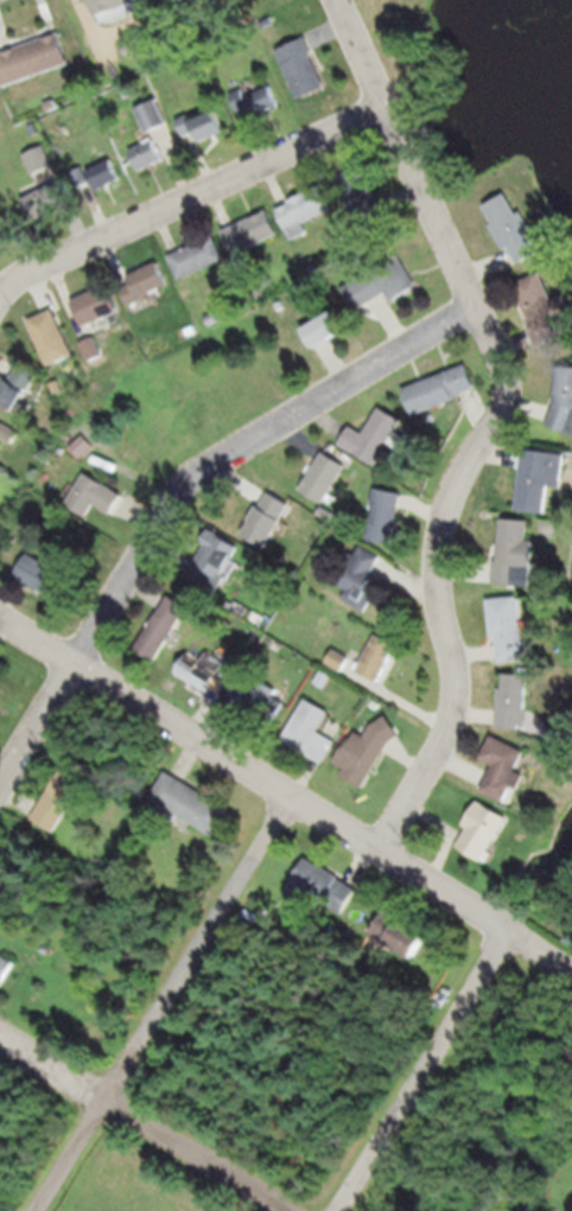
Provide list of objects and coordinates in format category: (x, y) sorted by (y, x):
building: (116, 6)
building: (32, 58)
building: (298, 58)
building: (258, 100)
building: (152, 115)
building: (202, 126)
building: (146, 155)
building: (39, 160)
building: (103, 174)
road: (189, 196)
building: (363, 197)
building: (43, 199)
building: (305, 209)
building: (517, 229)
building: (249, 232)
building: (198, 257)
building: (382, 282)
building: (145, 283)
building: (98, 305)
building: (545, 308)
building: (325, 330)
building: (53, 338)
building: (91, 349)
building: (18, 385)
building: (439, 389)
building: (563, 401)
road: (492, 423)
building: (374, 435)
building: (81, 445)
building: (0, 470)
building: (323, 476)
building: (540, 479)
building: (94, 495)
road: (185, 495)
building: (384, 515)
building: (266, 517)
building: (515, 554)
building: (214, 559)
building: (362, 569)
building: (44, 575)
building: (163, 625)
building: (508, 625)
building: (376, 656)
building: (338, 658)
building: (216, 671)
building: (0, 690)
building: (258, 697)
building: (513, 700)
building: (310, 729)
road: (189, 731)
building: (367, 750)
building: (502, 765)
building: (59, 799)
building: (191, 803)
building: (482, 828)
building: (324, 885)
road: (472, 909)
building: (400, 933)
building: (5, 967)
road: (161, 1001)
road: (419, 1070)
road: (142, 1117)

